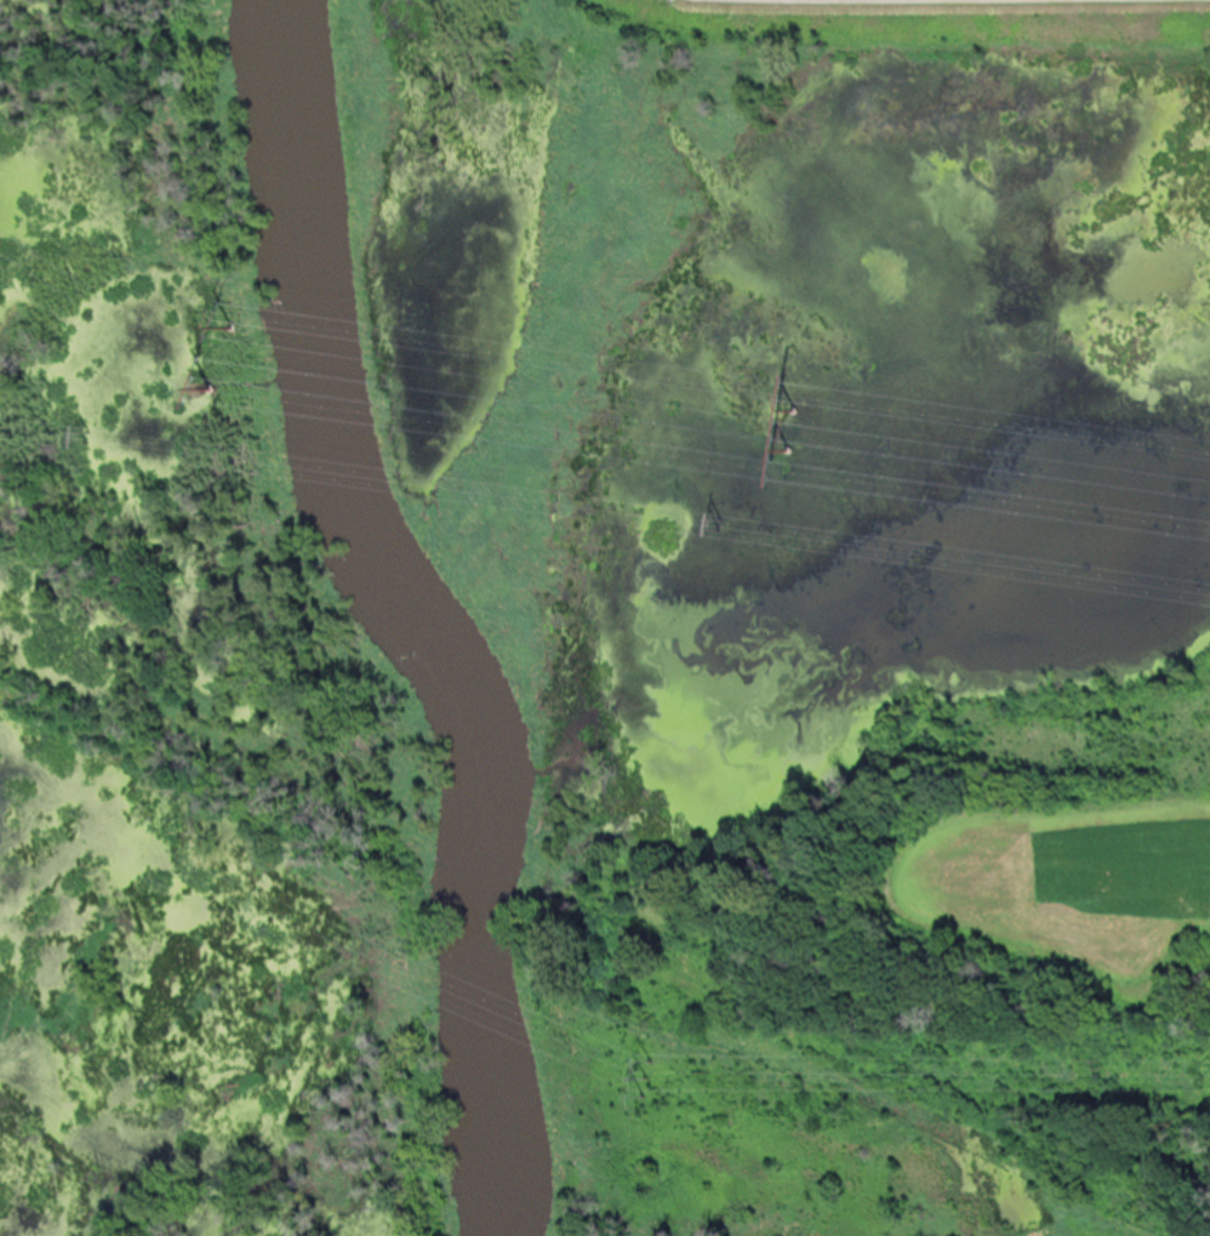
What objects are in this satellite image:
power tower: (233, 320)
power tower: (211, 381)
power tower: (794, 425)
power tower: (85, 431)
power tower: (721, 524)
power tower: (643, 1071)

